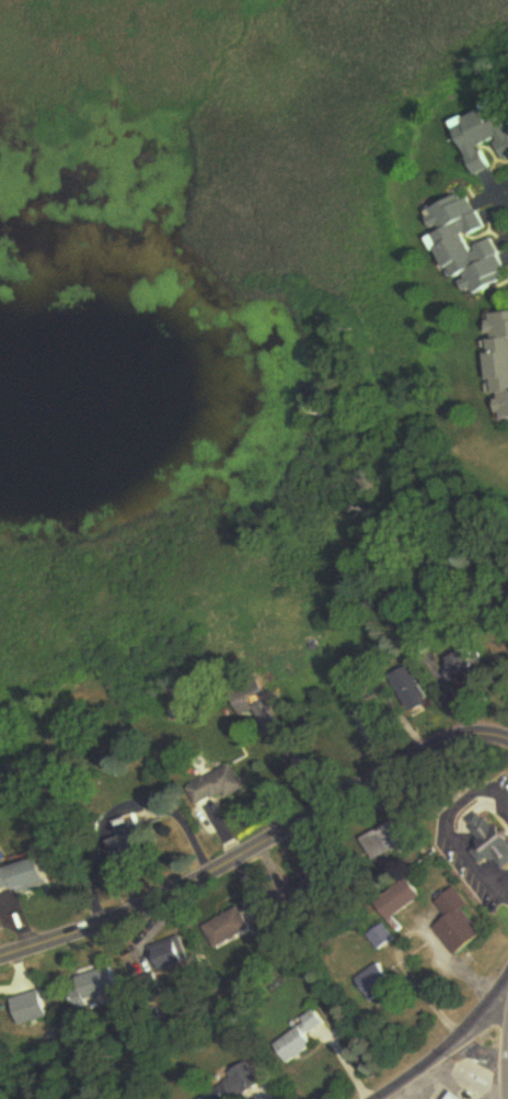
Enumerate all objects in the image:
building: (484, 135)
road: (507, 188)
building: (466, 247)
building: (497, 363)
building: (465, 662)
building: (250, 699)
building: (218, 786)
building: (494, 838)
building: (129, 841)
building: (391, 841)
road: (257, 852)
building: (28, 875)
building: (299, 897)
building: (401, 900)
building: (458, 924)
building: (234, 925)
building: (381, 937)
building: (174, 955)
building: (376, 982)
building: (92, 987)
building: (26, 1008)
building: (299, 1038)
road: (440, 1047)
building: (233, 1087)
road: (402, 1090)
building: (457, 1096)

